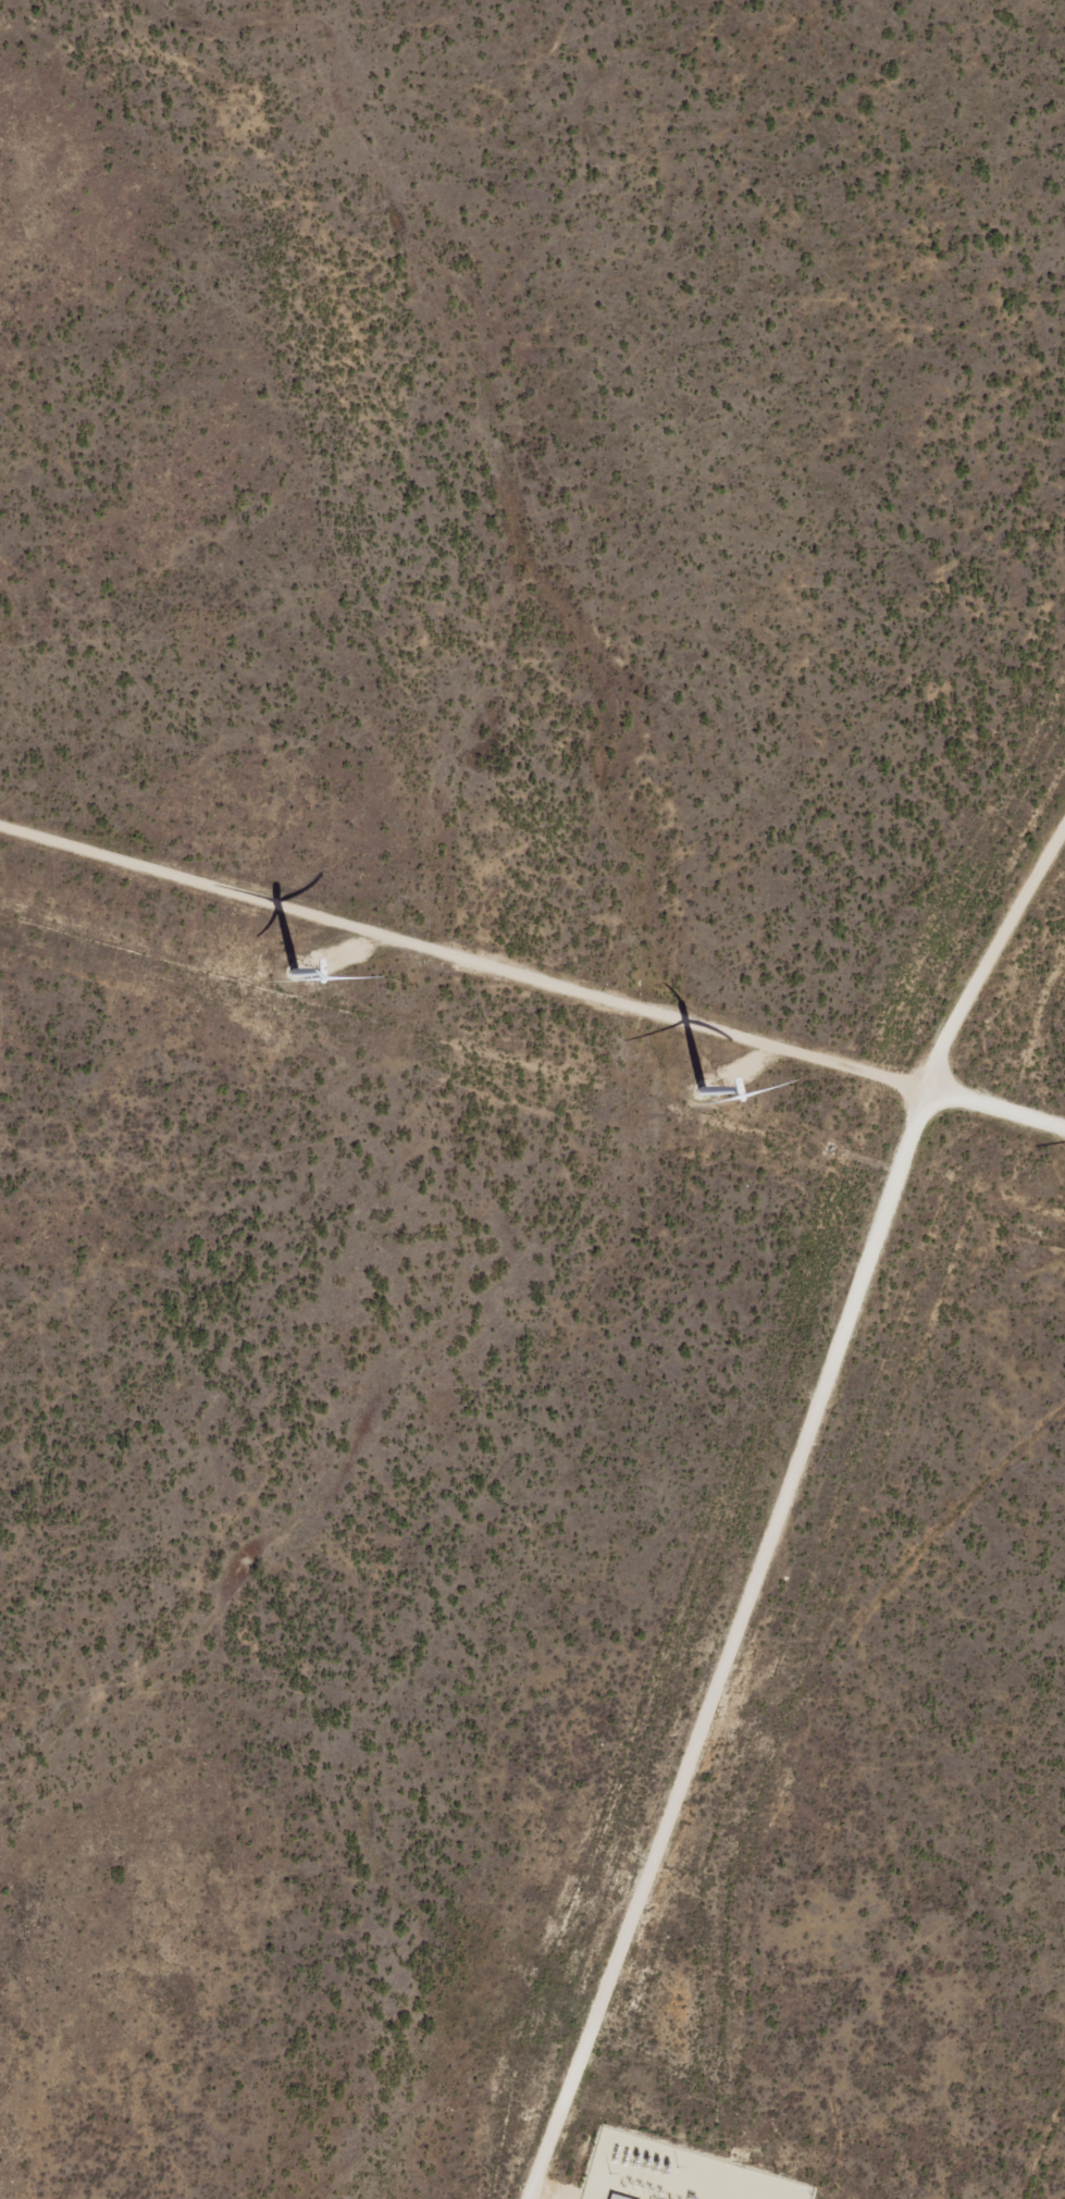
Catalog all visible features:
wind turbine: (256, 974)
wind turbine: (674, 1085)
road: (690, 1816)
power substation: (676, 2173)

